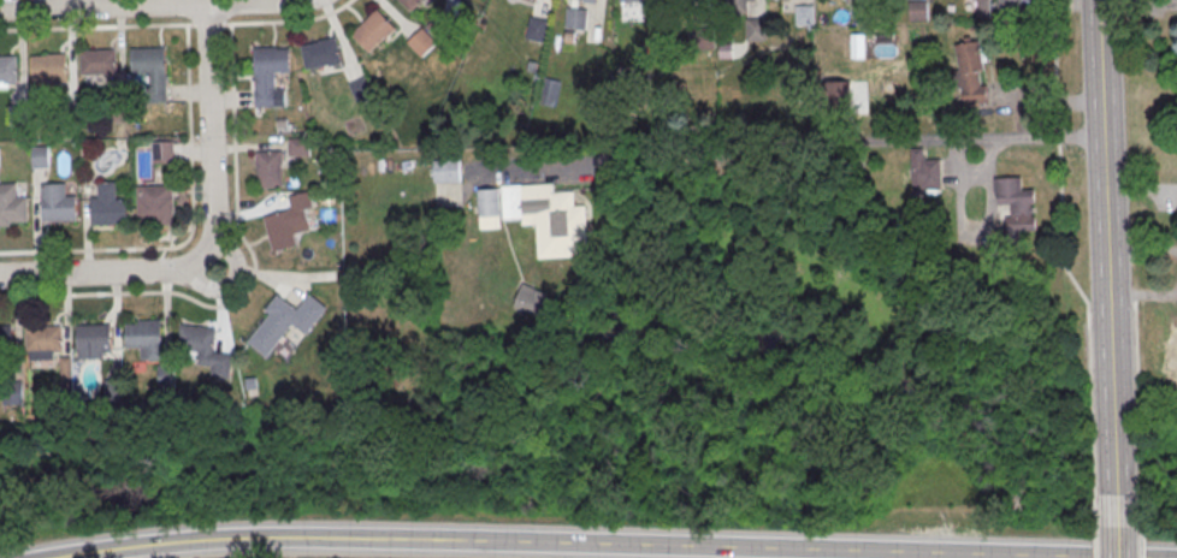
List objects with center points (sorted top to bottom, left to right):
building: (739, 1)
building: (588, 2)
building: (639, 2)
building: (688, 2)
building: (1009, 2)
road: (143, 4)
building: (410, 5)
road: (226, 23)
road: (207, 24)
road: (95, 26)
building: (537, 29)
building: (756, 29)
building: (373, 30)
building: (421, 41)
road: (230, 49)
building: (321, 57)
building: (147, 61)
building: (99, 64)
building: (48, 66)
building: (7, 67)
building: (971, 73)
building: (270, 76)
building: (361, 90)
building: (118, 115)
building: (18, 118)
building: (67, 124)
road: (781, 148)
building: (300, 149)
building: (162, 155)
building: (40, 159)
building: (0, 165)
building: (270, 173)
building: (448, 173)
building: (925, 176)
building: (57, 203)
building: (12, 204)
building: (155, 204)
building: (108, 207)
building: (489, 208)
building: (1015, 215)
building: (549, 220)
road: (190, 226)
building: (291, 226)
road: (1063, 227)
road: (212, 244)
road: (1108, 262)
road: (173, 292)
building: (531, 298)
building: (286, 325)
building: (146, 338)
building: (94, 340)
building: (45, 342)
building: (6, 343)
building: (203, 346)
road: (1137, 374)
building: (12, 396)
park: (641, 423)
road: (1096, 503)
road: (1143, 503)
park: (1, 514)
road: (1119, 541)
road: (566, 544)
road: (1099, 557)

